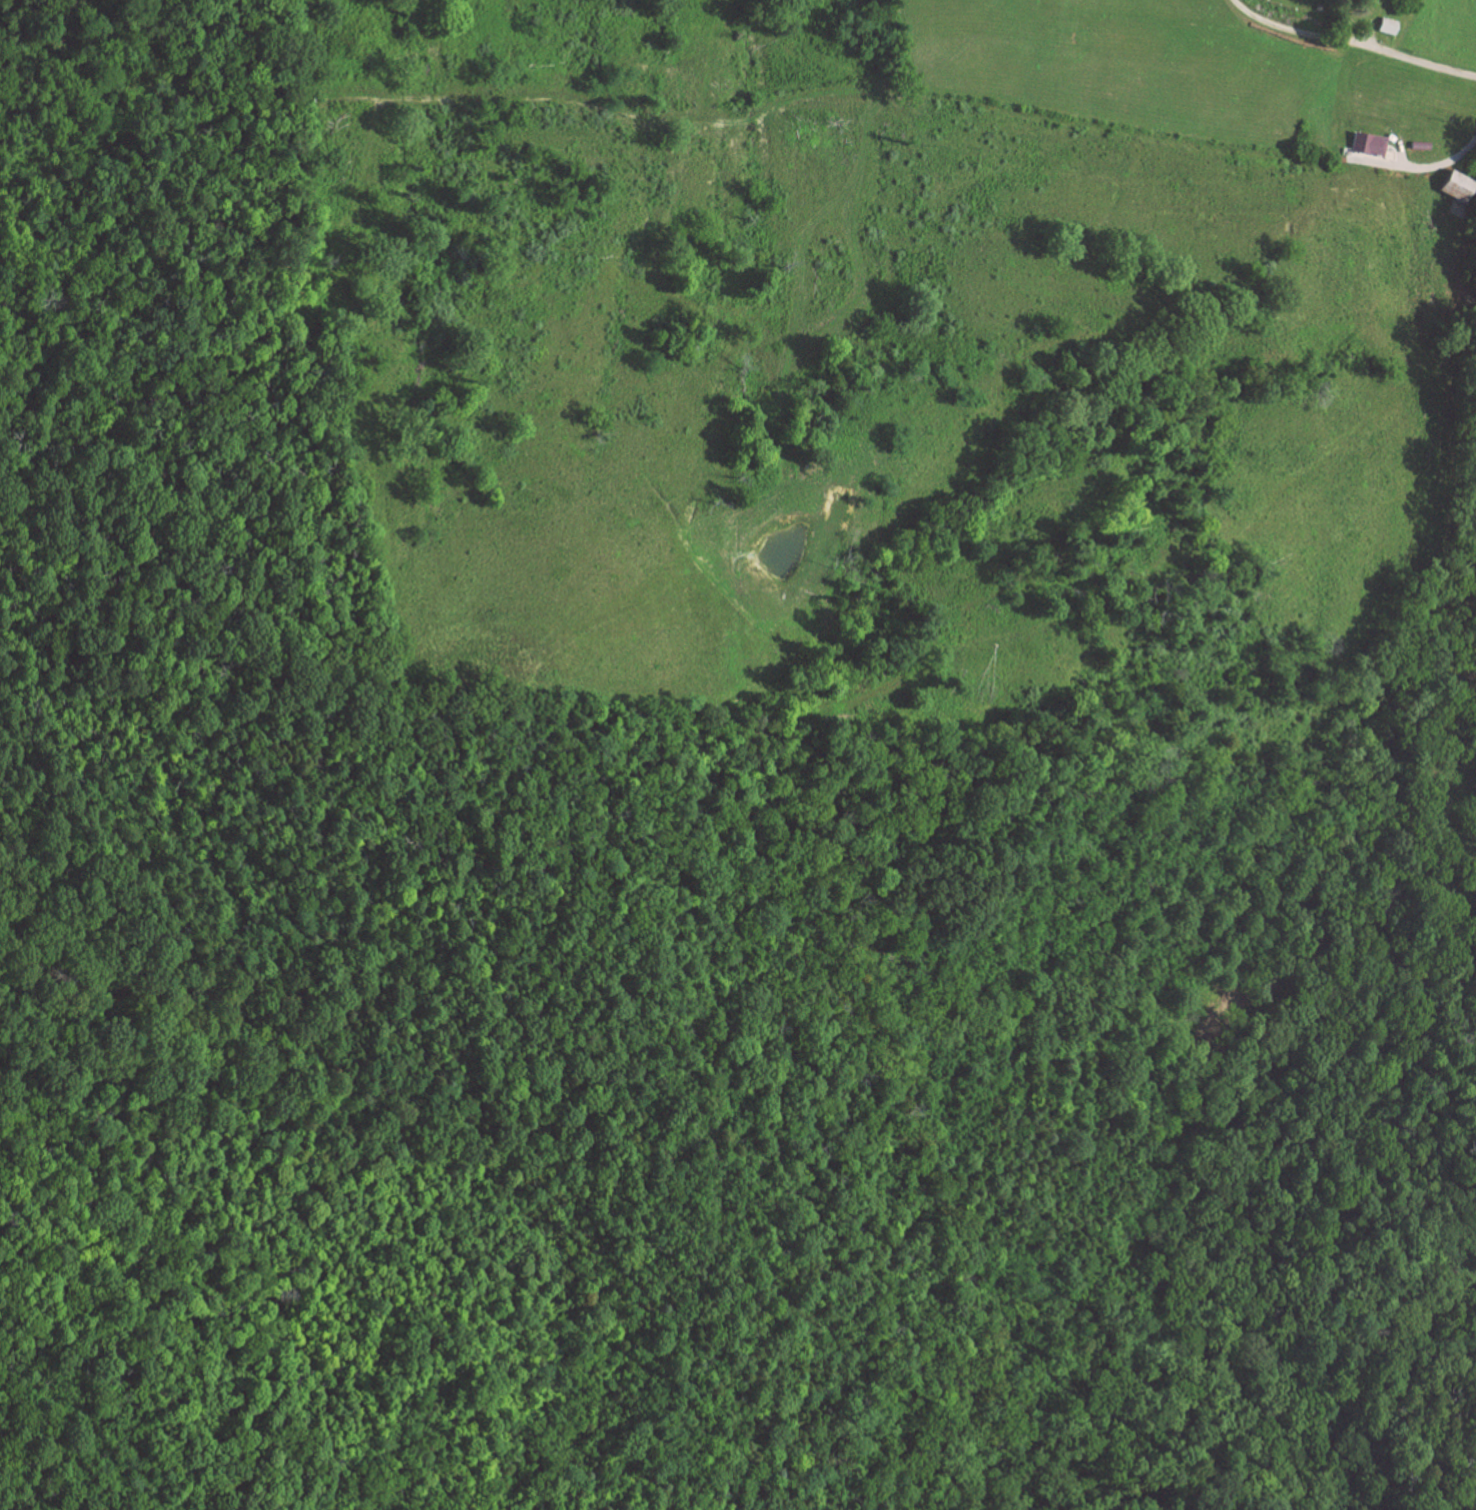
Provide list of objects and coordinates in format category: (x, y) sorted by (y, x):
road: (1352, 46)
road: (1434, 164)

